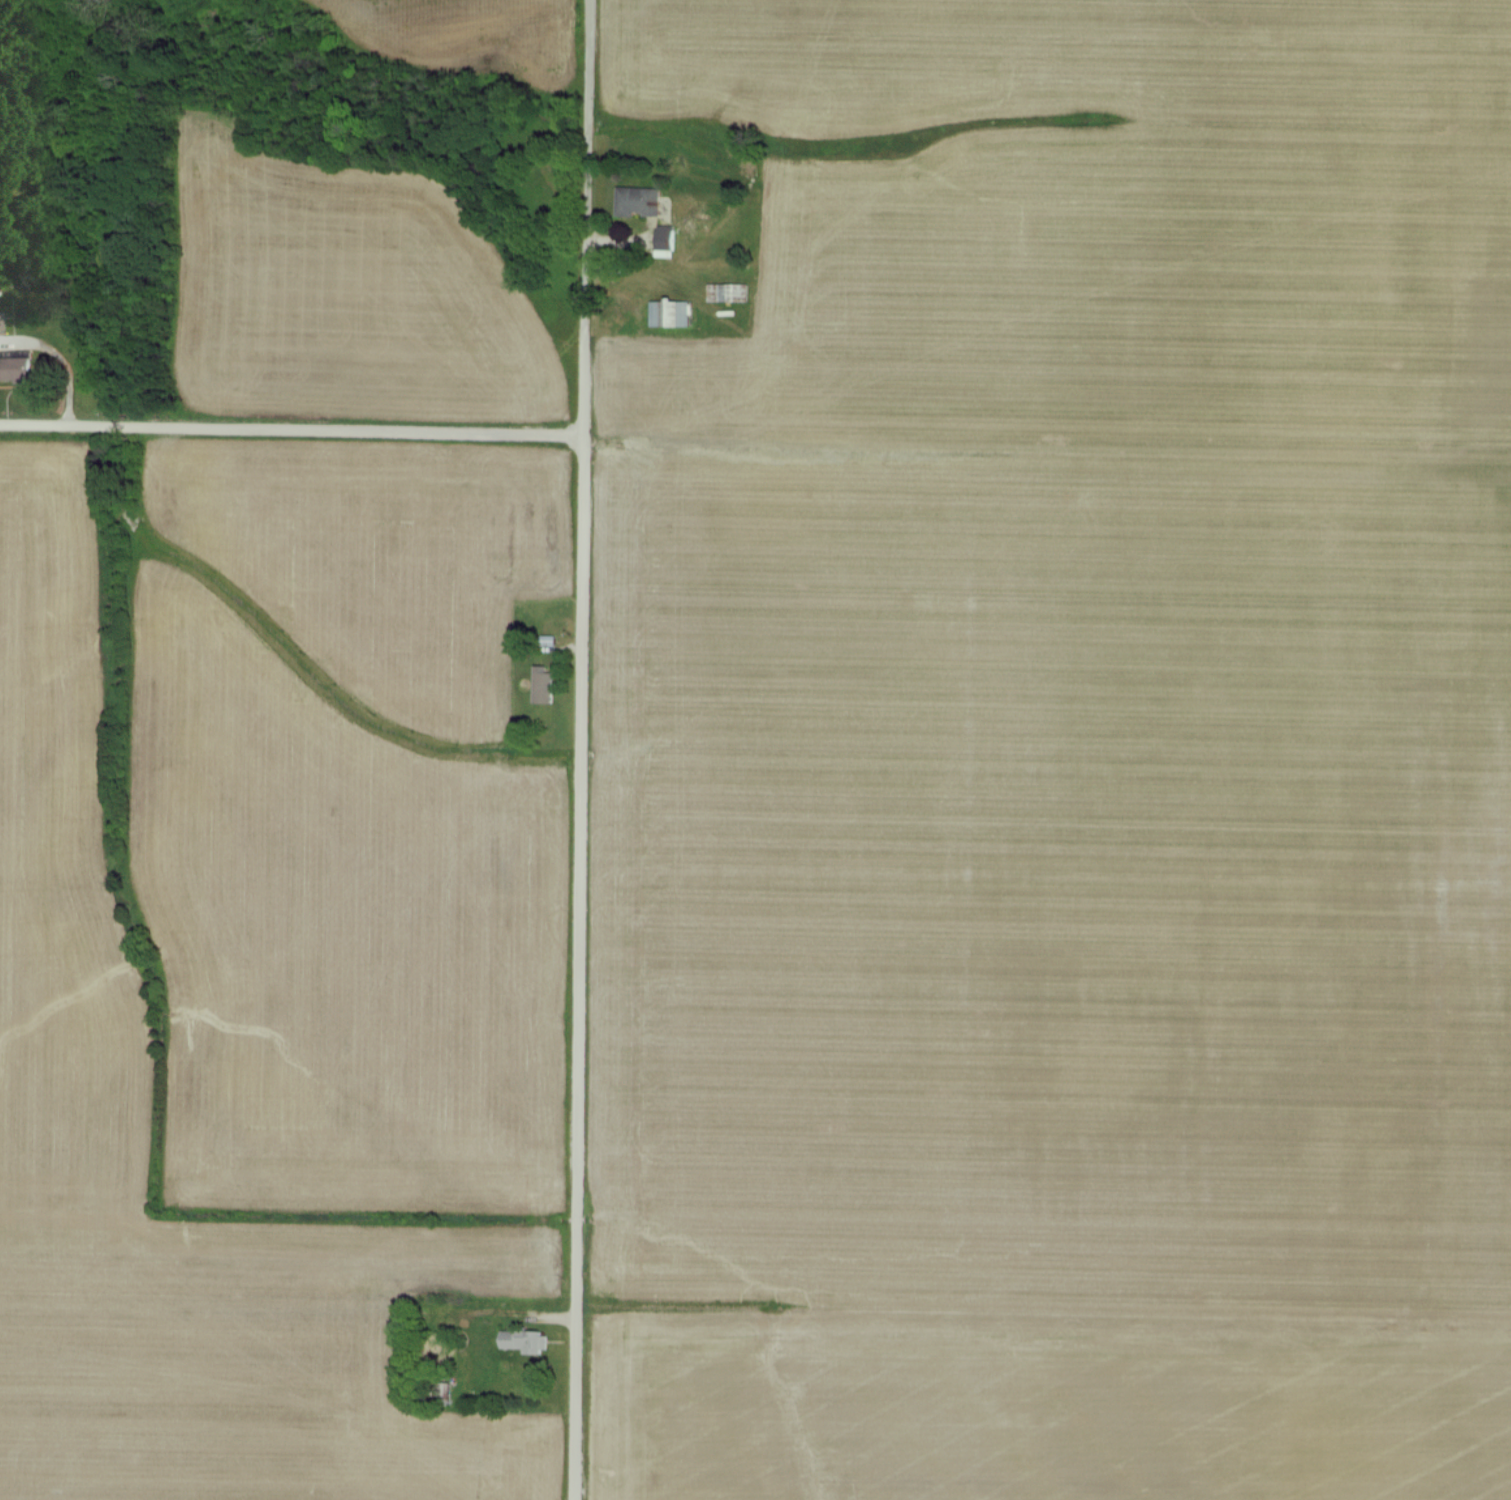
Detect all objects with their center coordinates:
building: (635, 199)
building: (667, 312)
building: (8, 368)
road: (292, 430)
road: (581, 749)

